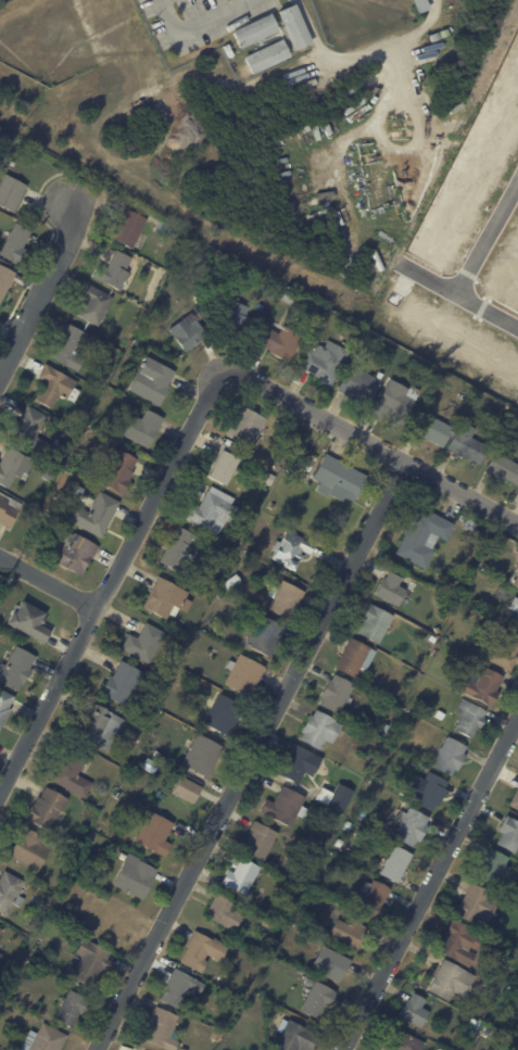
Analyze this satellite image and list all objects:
building: (422, 5)
road: (197, 23)
building: (292, 27)
building: (253, 30)
building: (444, 34)
building: (434, 37)
building: (265, 56)
road: (377, 56)
building: (319, 79)
building: (13, 163)
building: (12, 193)
building: (131, 229)
building: (165, 229)
road: (489, 238)
building: (16, 244)
building: (117, 273)
building: (5, 280)
road: (45, 288)
road: (462, 294)
building: (289, 298)
building: (96, 305)
building: (238, 318)
building: (187, 334)
building: (282, 342)
building: (70, 347)
building: (326, 362)
building: (153, 381)
building: (361, 385)
building: (56, 387)
building: (397, 403)
building: (79, 421)
building: (247, 426)
building: (28, 427)
building: (144, 429)
building: (434, 430)
building: (468, 444)
road: (372, 445)
building: (46, 456)
building: (223, 464)
building: (14, 468)
building: (504, 469)
building: (119, 472)
building: (49, 475)
building: (339, 478)
building: (269, 479)
building: (79, 491)
building: (213, 509)
building: (8, 510)
building: (96, 516)
building: (425, 536)
building: (292, 548)
building: (179, 549)
building: (74, 554)
building: (517, 567)
road: (49, 580)
building: (517, 580)
building: (232, 582)
building: (417, 583)
road: (109, 587)
building: (392, 587)
building: (220, 595)
building: (166, 598)
building: (287, 599)
building: (515, 605)
building: (30, 621)
building: (516, 621)
building: (376, 622)
building: (266, 635)
building: (433, 637)
building: (144, 642)
building: (504, 651)
building: (435, 654)
building: (462, 655)
building: (356, 657)
building: (16, 667)
building: (164, 674)
building: (244, 674)
building: (177, 682)
building: (123, 683)
building: (484, 685)
building: (337, 693)
building: (4, 705)
building: (225, 714)
building: (440, 716)
building: (470, 718)
building: (415, 721)
building: (134, 722)
building: (101, 726)
building: (321, 729)
building: (134, 733)
building: (157, 754)
building: (451, 756)
building: (201, 757)
road: (254, 757)
building: (301, 763)
building: (416, 763)
building: (73, 771)
building: (188, 789)
building: (431, 790)
building: (118, 795)
building: (337, 796)
building: (516, 800)
building: (287, 807)
building: (48, 808)
building: (333, 815)
building: (350, 825)
building: (412, 826)
building: (155, 833)
building: (509, 834)
building: (260, 839)
building: (340, 843)
building: (31, 848)
building: (314, 851)
building: (68, 856)
building: (397, 863)
building: (493, 866)
building: (243, 875)
building: (136, 876)
road: (431, 885)
building: (10, 891)
building: (375, 898)
building: (43, 902)
building: (478, 904)
building: (225, 911)
building: (267, 923)
building: (1, 931)
building: (351, 933)
building: (463, 943)
building: (203, 950)
building: (0, 954)
building: (332, 963)
building: (89, 965)
building: (452, 981)
building: (309, 982)
building: (493, 987)
building: (181, 988)
building: (318, 999)
building: (72, 1008)
building: (416, 1010)
building: (475, 1022)
building: (162, 1028)
building: (489, 1032)
building: (217, 1035)
building: (296, 1038)
building: (45, 1039)
building: (226, 1040)
building: (405, 1042)
building: (182, 1049)

